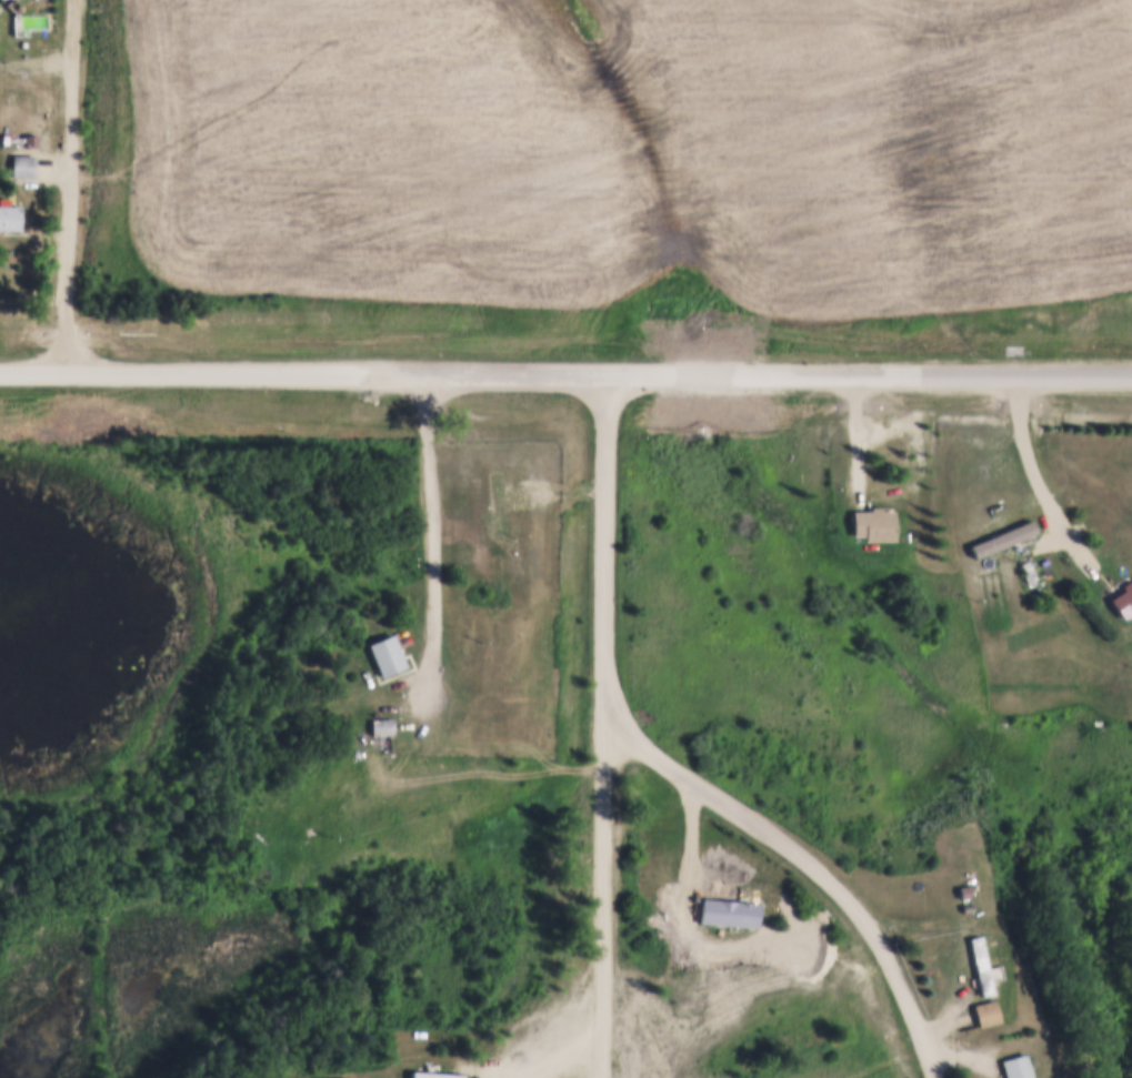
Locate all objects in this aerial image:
building: (0, 114)
building: (14, 119)
building: (26, 125)
building: (3, 137)
building: (29, 137)
building: (22, 163)
road: (71, 187)
building: (8, 214)
road: (565, 374)
road: (1039, 478)
building: (494, 501)
building: (871, 522)
road: (430, 536)
building: (1024, 568)
building: (1121, 600)
building: (384, 652)
building: (381, 723)
road: (672, 768)
road: (608, 883)
building: (963, 889)
building: (965, 905)
building: (728, 909)
building: (963, 919)
building: (692, 933)
building: (980, 966)
building: (983, 1010)
building: (631, 1054)
road: (888, 1059)
building: (1015, 1065)
building: (432, 1074)
building: (330, 1077)

